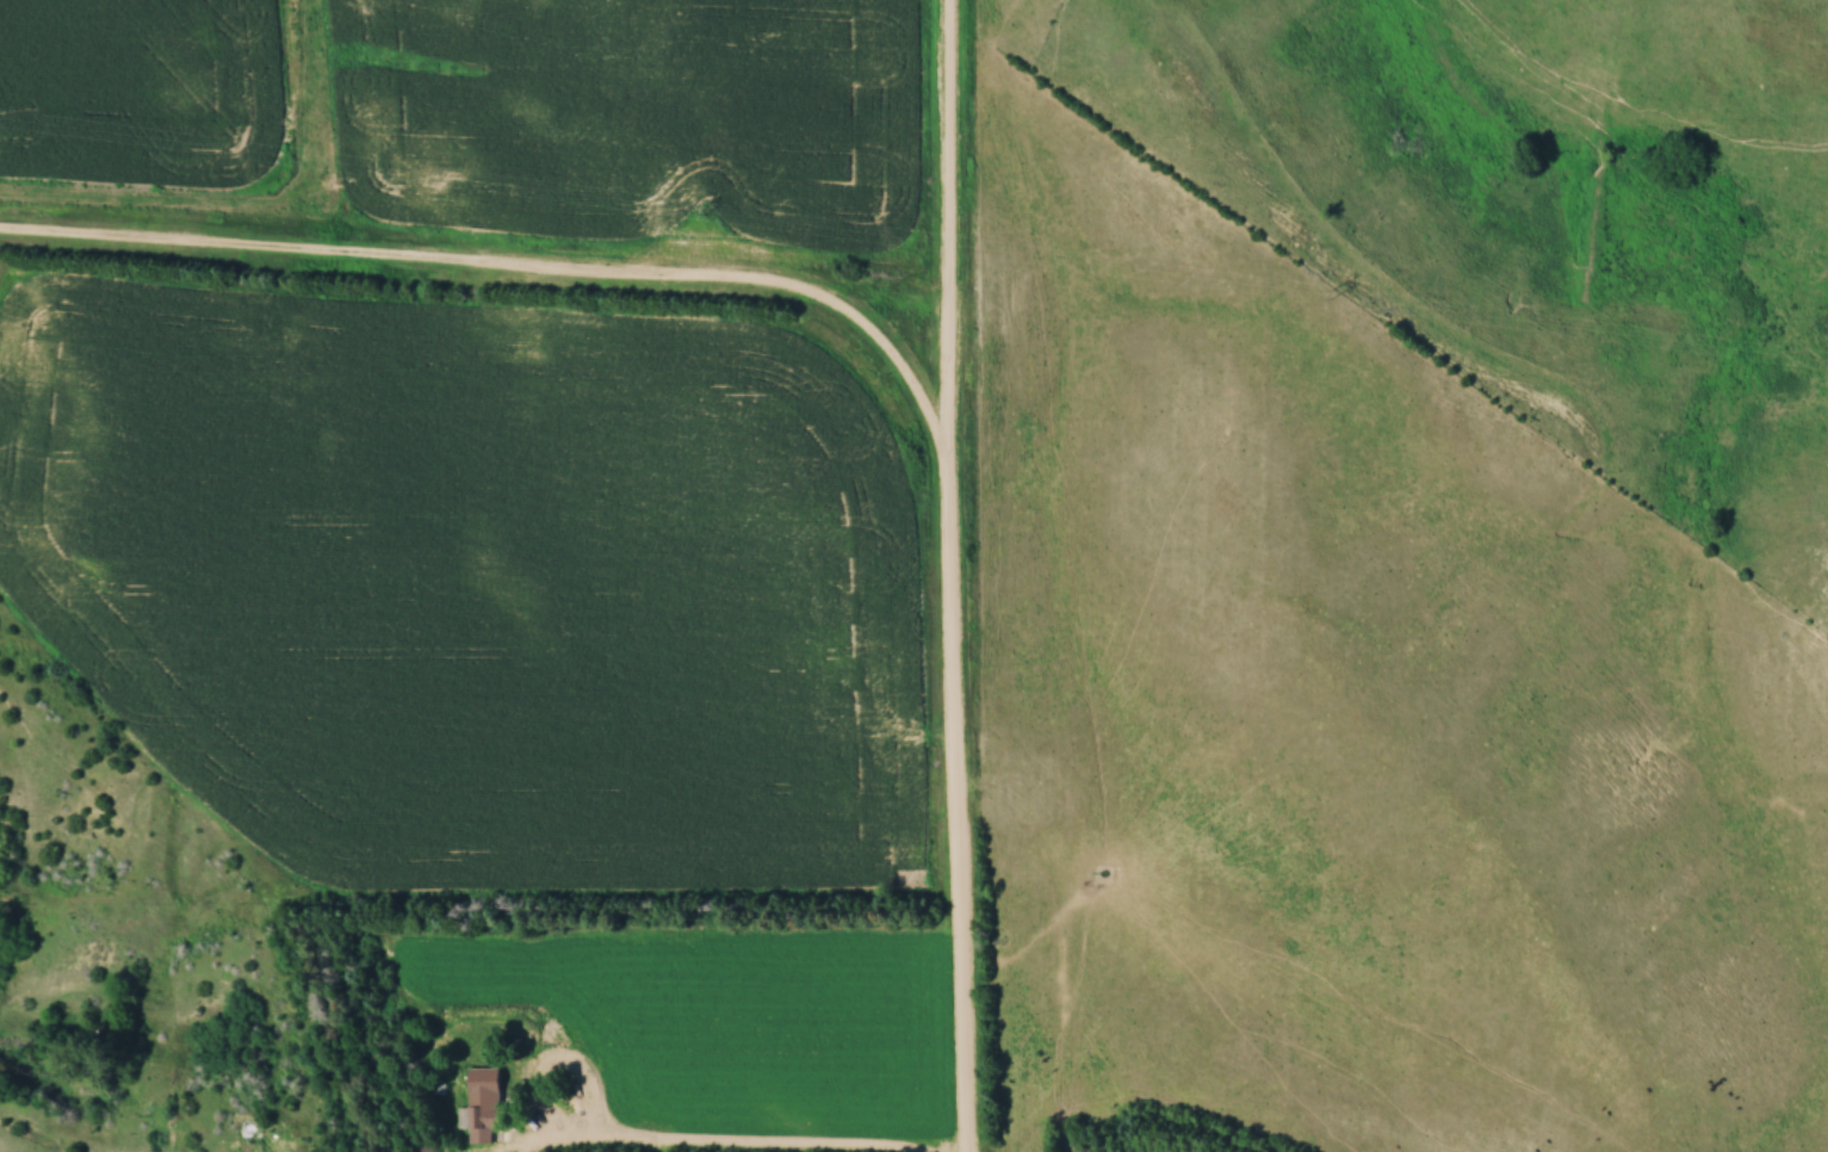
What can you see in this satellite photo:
road: (520, 266)
road: (952, 576)
building: (484, 1121)
building: (425, 1146)
road: (642, 1148)

